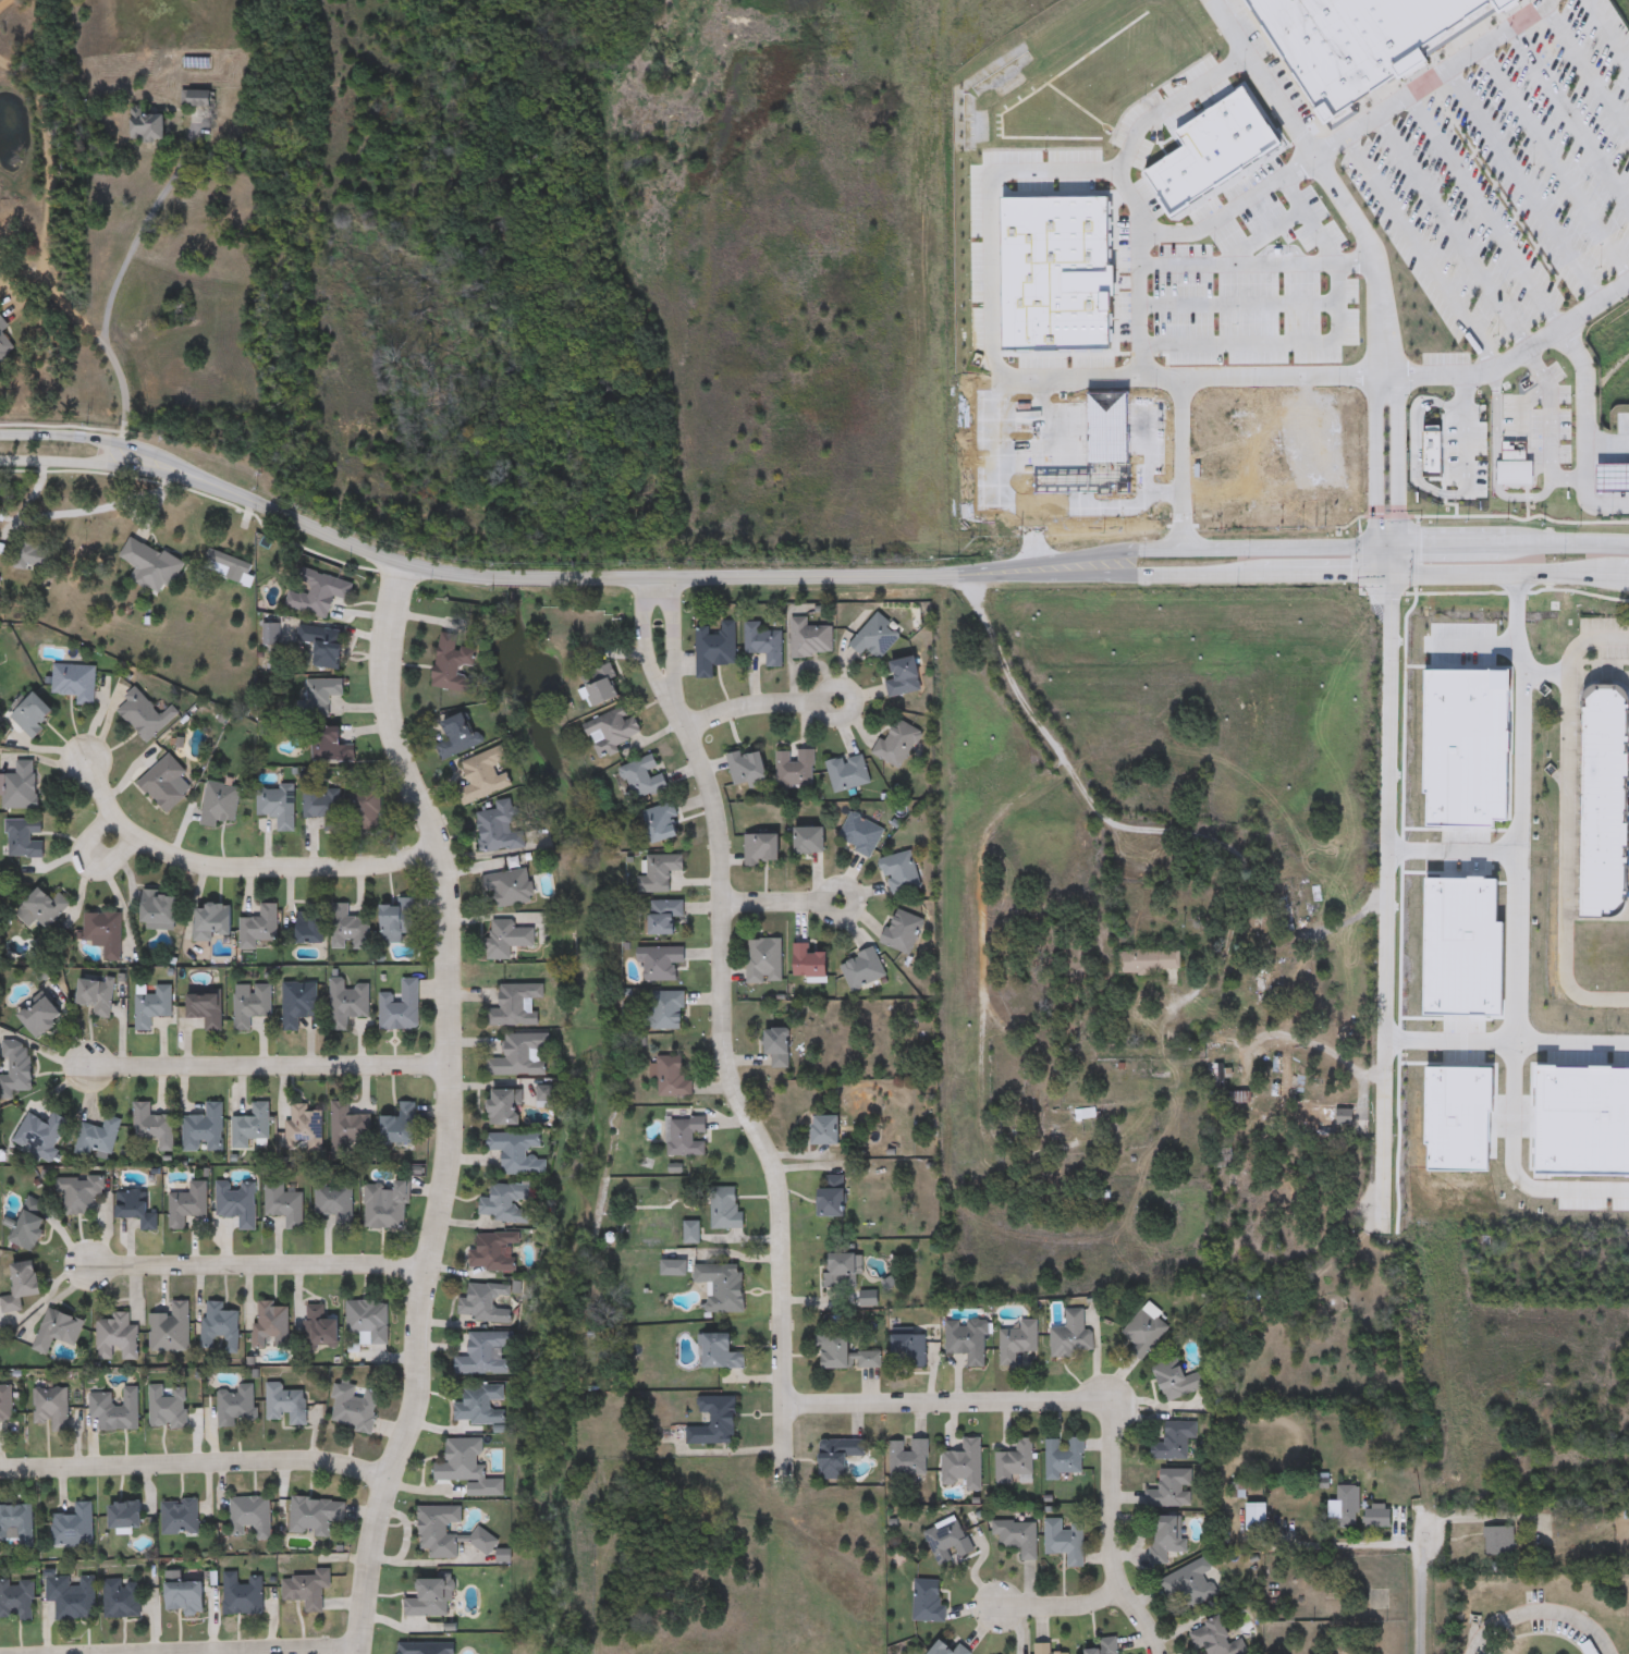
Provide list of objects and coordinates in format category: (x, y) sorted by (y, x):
road: (1607, 32)
building: (1360, 41)
road: (1585, 71)
road: (1431, 78)
building: (196, 98)
road: (1173, 102)
road: (1569, 119)
building: (147, 127)
road: (1553, 161)
road: (1099, 170)
road: (1327, 176)
parking lot: (1502, 184)
road: (1521, 188)
road: (1484, 211)
road: (150, 225)
road: (1450, 232)
road: (1265, 234)
road: (1282, 248)
road: (1420, 252)
road: (1257, 262)
road: (50, 266)
building: (1053, 270)
parking lot: (1258, 291)
road: (1140, 304)
road: (1238, 304)
road: (1330, 344)
building: (4, 347)
road: (1514, 355)
road: (1196, 376)
road: (1074, 377)
road: (1593, 394)
road: (1524, 402)
road: (1551, 430)
road: (1466, 431)
road: (109, 440)
road: (1416, 444)
building: (1432, 454)
road: (1398, 458)
road: (1374, 460)
road: (1495, 462)
road: (106, 464)
building: (1515, 464)
building: (1274, 471)
gas station: (1613, 475)
road: (1595, 481)
road: (69, 512)
traffic signals: (1388, 544)
road: (1287, 547)
building: (33, 555)
building: (231, 565)
building: (148, 566)
road: (1509, 574)
road: (569, 576)
road: (1168, 577)
traffic signals: (1391, 577)
building: (318, 592)
road: (672, 634)
road: (647, 635)
building: (875, 638)
building: (811, 639)
building: (764, 644)
road: (1472, 644)
building: (323, 646)
building: (715, 649)
building: (453, 664)
building: (904, 678)
building: (75, 684)
building: (601, 686)
building: (322, 696)
road: (854, 708)
road: (751, 710)
building: (32, 716)
building: (146, 716)
building: (612, 733)
building: (458, 737)
building: (897, 745)
building: (331, 746)
building: (1466, 746)
building: (747, 768)
building: (795, 770)
building: (848, 773)
building: (483, 776)
building: (644, 780)
building: (167, 784)
building: (21, 787)
building: (1604, 800)
building: (220, 805)
building: (278, 805)
building: (365, 805)
building: (324, 806)
road: (1095, 806)
building: (661, 823)
road: (1568, 824)
building: (501, 828)
building: (861, 835)
building: (25, 838)
road: (109, 840)
building: (810, 841)
building: (761, 850)
road: (1452, 850)
road: (238, 863)
building: (660, 873)
building: (901, 873)
road: (1384, 884)
building: (510, 887)
road: (860, 896)
road: (774, 903)
building: (1285, 905)
building: (47, 906)
building: (159, 909)
building: (664, 916)
building: (211, 921)
building: (399, 921)
road: (991, 922)
building: (259, 928)
building: (308, 928)
building: (350, 929)
building: (903, 931)
building: (106, 933)
road: (1517, 933)
building: (507, 940)
building: (1463, 947)
building: (764, 960)
building: (660, 963)
building: (809, 963)
building: (1150, 964)
building: (862, 969)
helipad: (850, 970)
building: (1267, 982)
building: (97, 995)
building: (348, 1003)
building: (299, 1004)
building: (250, 1005)
building: (516, 1005)
building: (152, 1007)
building: (401, 1007)
building: (669, 1009)
building: (206, 1010)
building: (40, 1016)
road: (1295, 1038)
road: (1504, 1042)
building: (777, 1047)
building: (522, 1056)
road: (271, 1063)
building: (16, 1070)
building: (673, 1077)
road: (734, 1086)
building: (506, 1107)
road: (449, 1108)
building: (1086, 1115)
building: (1458, 1117)
building: (1332, 1118)
building: (1582, 1119)
building: (400, 1126)
building: (154, 1127)
building: (252, 1127)
building: (306, 1128)
building: (350, 1129)
building: (205, 1130)
building: (826, 1131)
building: (40, 1136)
building: (686, 1137)
building: (98, 1138)
building: (519, 1153)
building: (79, 1194)
building: (832, 1197)
building: (237, 1202)
building: (336, 1202)
building: (505, 1203)
building: (284, 1204)
building: (188, 1205)
building: (387, 1208)
building: (726, 1209)
building: (135, 1210)
building: (28, 1227)
building: (691, 1233)
building: (493, 1252)
road: (257, 1262)
building: (842, 1272)
building: (21, 1286)
building: (723, 1287)
building: (485, 1303)
building: (369, 1322)
building: (271, 1325)
building: (220, 1328)
building: (319, 1328)
building: (171, 1330)
building: (58, 1331)
building: (1144, 1333)
building: (1073, 1336)
building: (118, 1339)
building: (968, 1340)
building: (1018, 1343)
building: (908, 1350)
building: (483, 1353)
building: (719, 1353)
building: (843, 1355)
building: (1177, 1381)
road: (940, 1400)
building: (5, 1405)
building: (237, 1406)
building: (285, 1406)
building: (479, 1406)
building: (168, 1408)
building: (51, 1409)
building: (355, 1409)
building: (115, 1410)
building: (714, 1422)
building: (1175, 1442)
building: (838, 1457)
building: (1064, 1457)
building: (909, 1459)
building: (462, 1461)
building: (1015, 1465)
building: (963, 1467)
road: (196, 1468)
building: (1172, 1490)
building: (1349, 1508)
building: (125, 1515)
building: (315, 1516)
building: (180, 1517)
building: (250, 1517)
road: (1474, 1518)
building: (1377, 1520)
building: (16, 1526)
building: (74, 1527)
building: (438, 1530)
road: (1112, 1530)
building: (1018, 1537)
building: (1167, 1537)
building: (483, 1541)
building: (1499, 1541)
building: (950, 1542)
building: (1065, 1542)
building: (1191, 1583)
building: (307, 1589)
road: (1418, 1590)
building: (243, 1594)
building: (183, 1595)
building: (72, 1597)
building: (122, 1598)
building: (428, 1598)
building: (16, 1601)
building: (928, 1602)
road: (1061, 1604)
road: (1543, 1612)
building: (1217, 1640)
building: (1106, 1646)
building: (426, 1649)
building: (947, 1649)
building: (1045, 1649)
road: (310, 1652)

